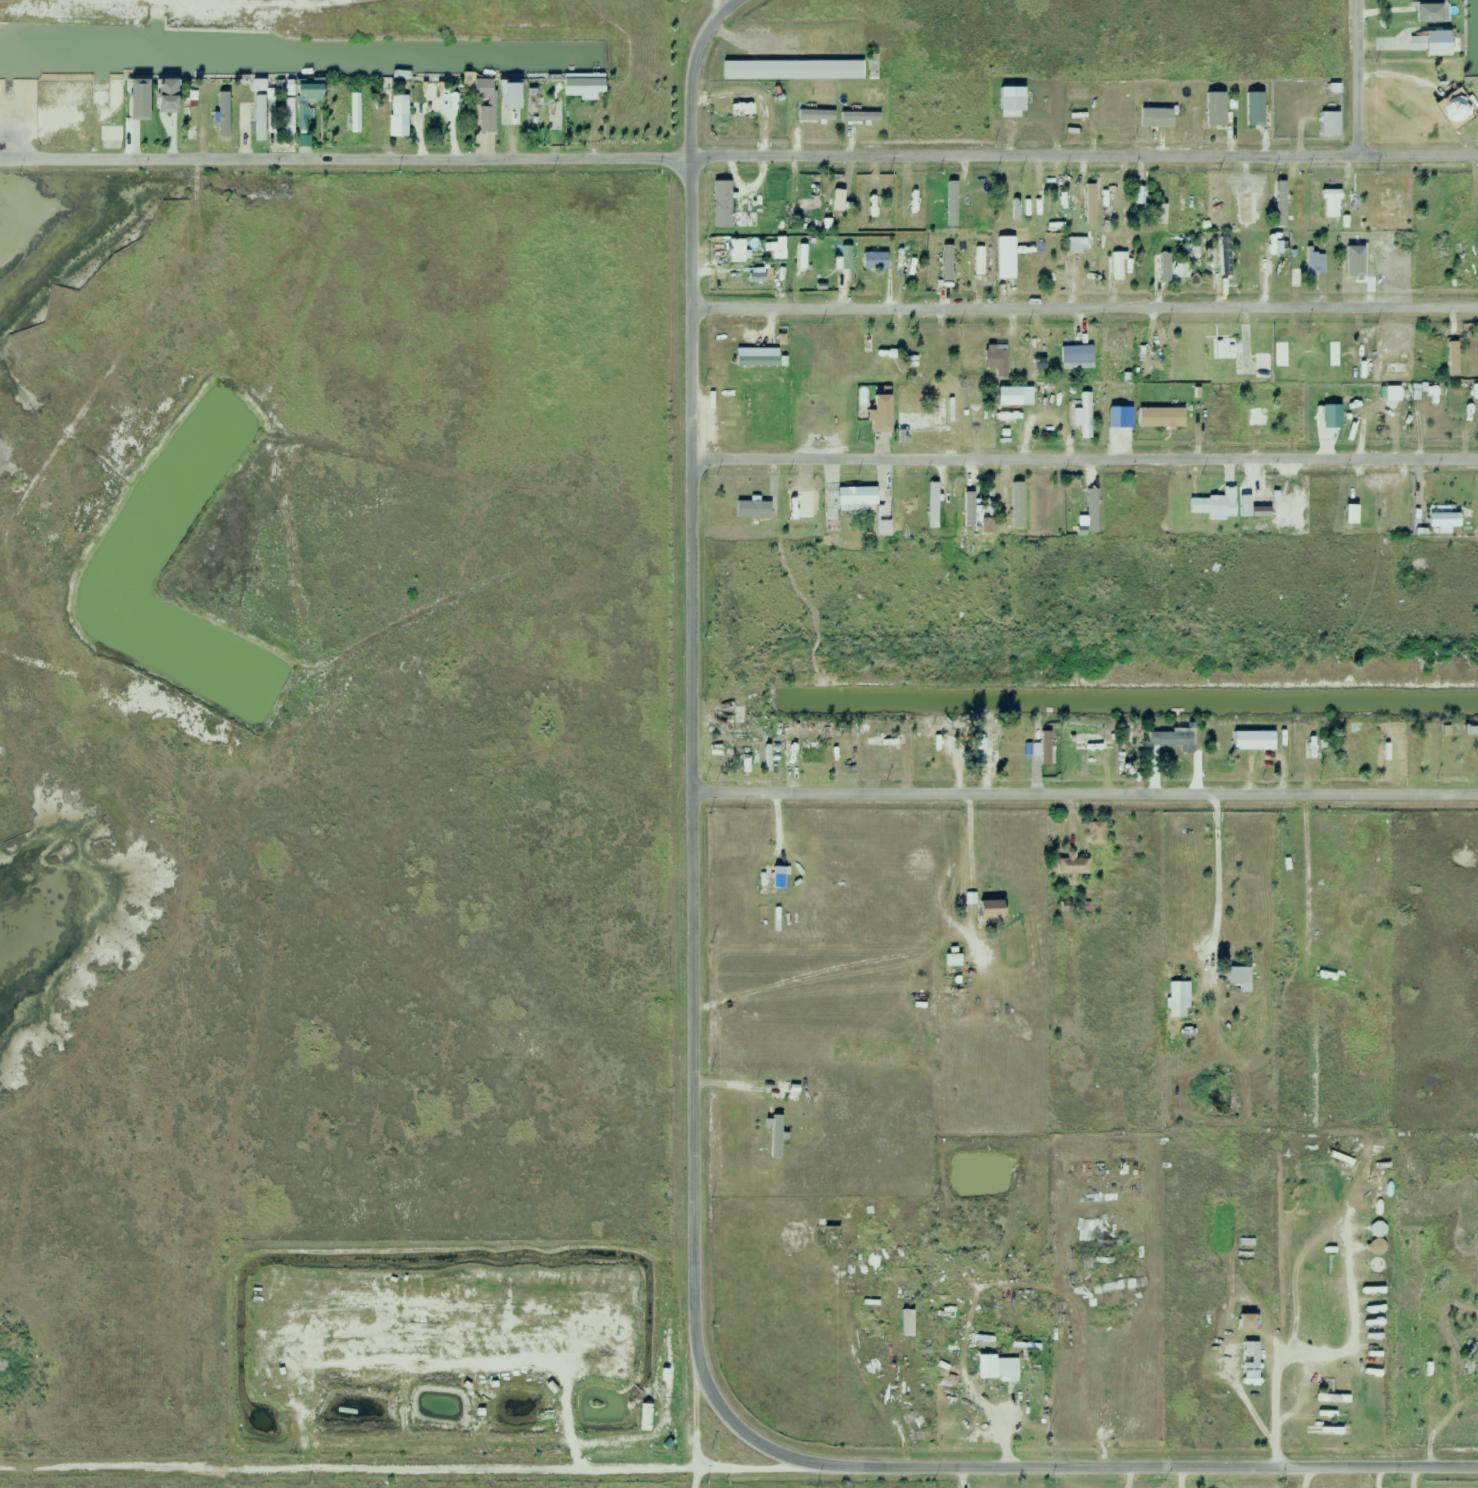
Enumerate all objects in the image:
building: (1424, 13)
building: (1427, 43)
building: (870, 66)
building: (790, 70)
road: (688, 72)
road: (1354, 78)
building: (262, 85)
building: (314, 90)
building: (506, 96)
building: (1010, 99)
building: (143, 100)
building: (487, 102)
building: (557, 102)
building: (191, 106)
building: (292, 108)
building: (1252, 109)
building: (1213, 110)
building: (1452, 112)
building: (353, 113)
building: (263, 118)
building: (225, 119)
building: (395, 119)
building: (306, 120)
building: (246, 122)
building: (1328, 124)
building: (113, 133)
road: (1081, 156)
road: (343, 158)
building: (716, 195)
building: (1457, 196)
building: (1282, 197)
building: (834, 199)
building: (956, 200)
building: (1386, 201)
building: (1015, 204)
building: (1087, 204)
building: (1328, 204)
building: (1180, 213)
building: (745, 219)
building: (1053, 226)
building: (1076, 245)
building: (1477, 245)
building: (734, 249)
building: (1006, 258)
building: (840, 259)
building: (872, 261)
building: (979, 261)
building: (1099, 263)
building: (1313, 264)
building: (945, 265)
building: (1388, 265)
building: (915, 267)
building: (1167, 268)
road: (1084, 307)
building: (1116, 350)
building: (1303, 352)
building: (1074, 356)
building: (754, 357)
building: (1000, 364)
building: (1261, 366)
building: (1461, 366)
building: (872, 367)
building: (809, 411)
building: (735, 415)
building: (873, 415)
building: (1085, 416)
building: (927, 417)
building: (1114, 417)
building: (1253, 417)
building: (1158, 418)
road: (1083, 461)
building: (900, 505)
building: (800, 506)
building: (857, 506)
building: (1016, 507)
building: (745, 509)
building: (1404, 513)
building: (1448, 517)
building: (976, 519)
building: (1245, 732)
building: (1169, 741)
building: (1349, 745)
building: (1044, 747)
building: (983, 750)
road: (1084, 792)
road: (690, 806)
building: (1095, 833)
building: (1070, 869)
building: (768, 880)
road: (1216, 887)
building: (986, 911)
building: (1329, 973)
building: (949, 978)
building: (1237, 980)
building: (1175, 1005)
building: (786, 1092)
building: (775, 1136)
road: (1296, 1296)
building: (1316, 1315)
building: (1242, 1323)
building: (1469, 1357)
building: (1248, 1364)
building: (1003, 1368)
road: (1109, 1467)

